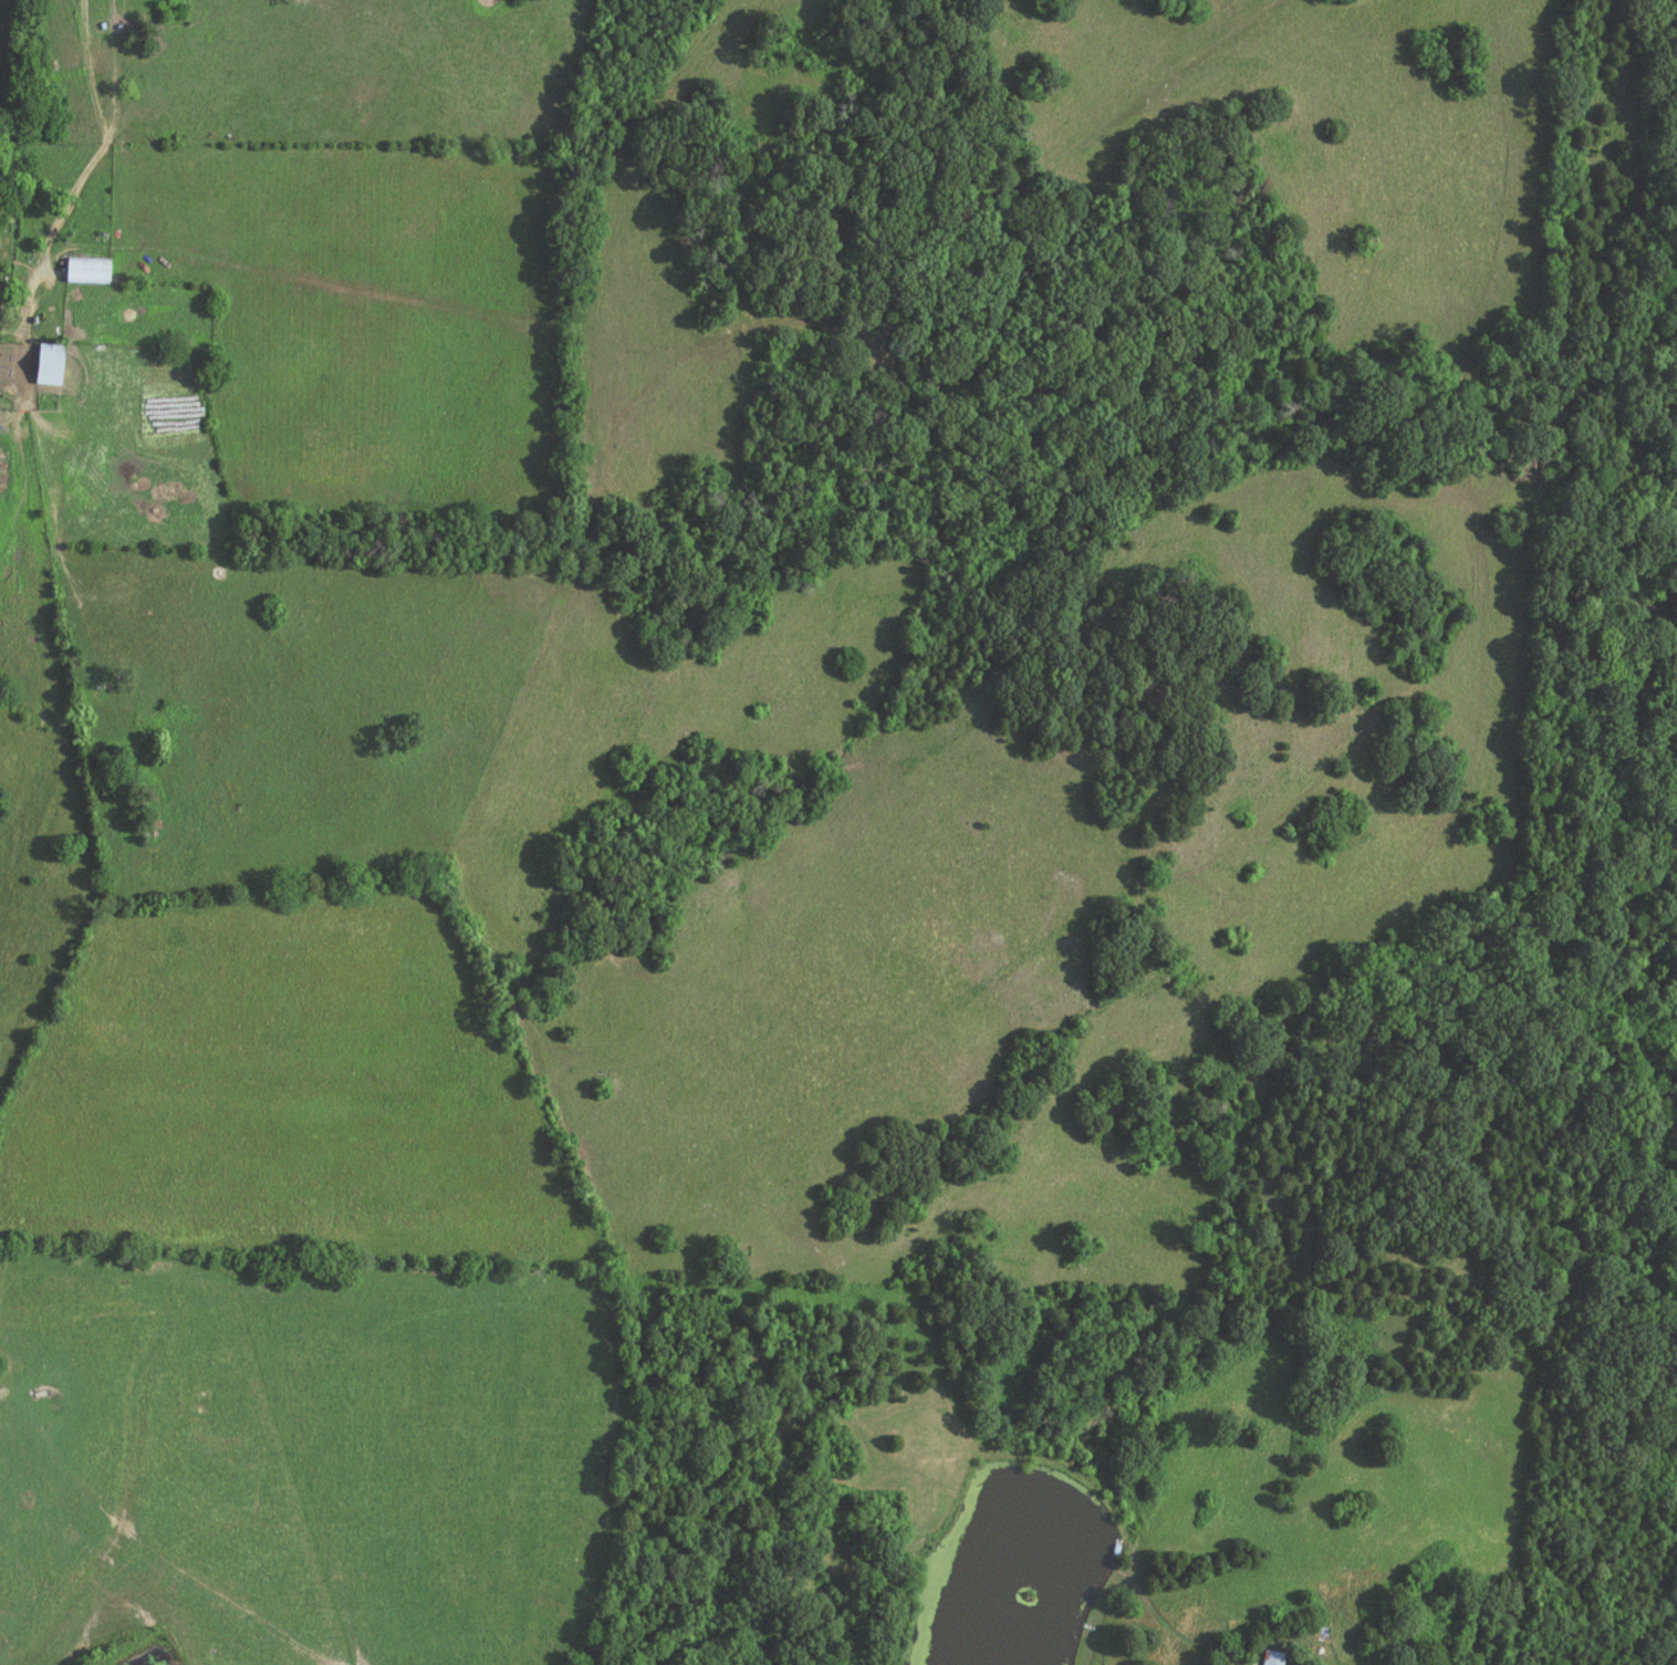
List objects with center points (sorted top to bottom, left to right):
building: (87, 271)
building: (48, 365)
building: (1272, 1657)

